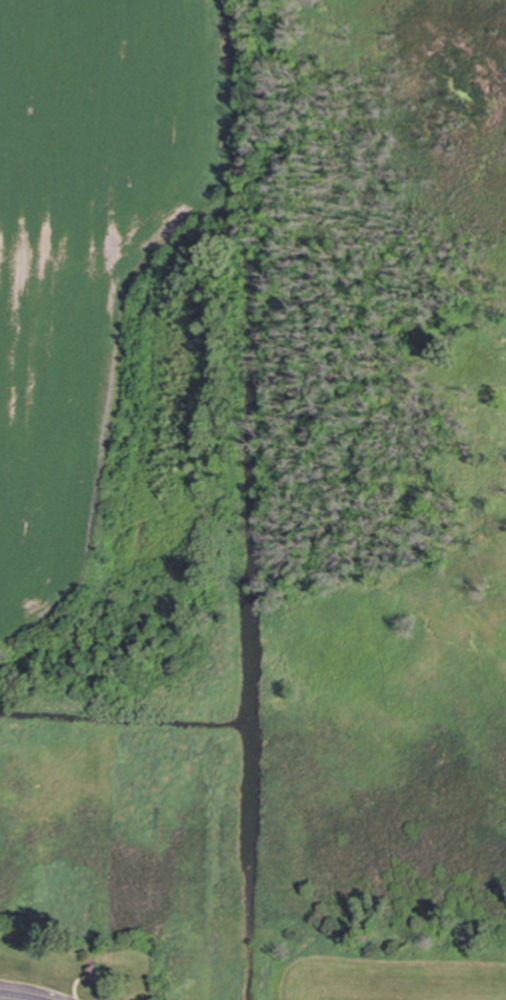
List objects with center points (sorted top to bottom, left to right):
crop: (88, 239)
road: (27, 992)

